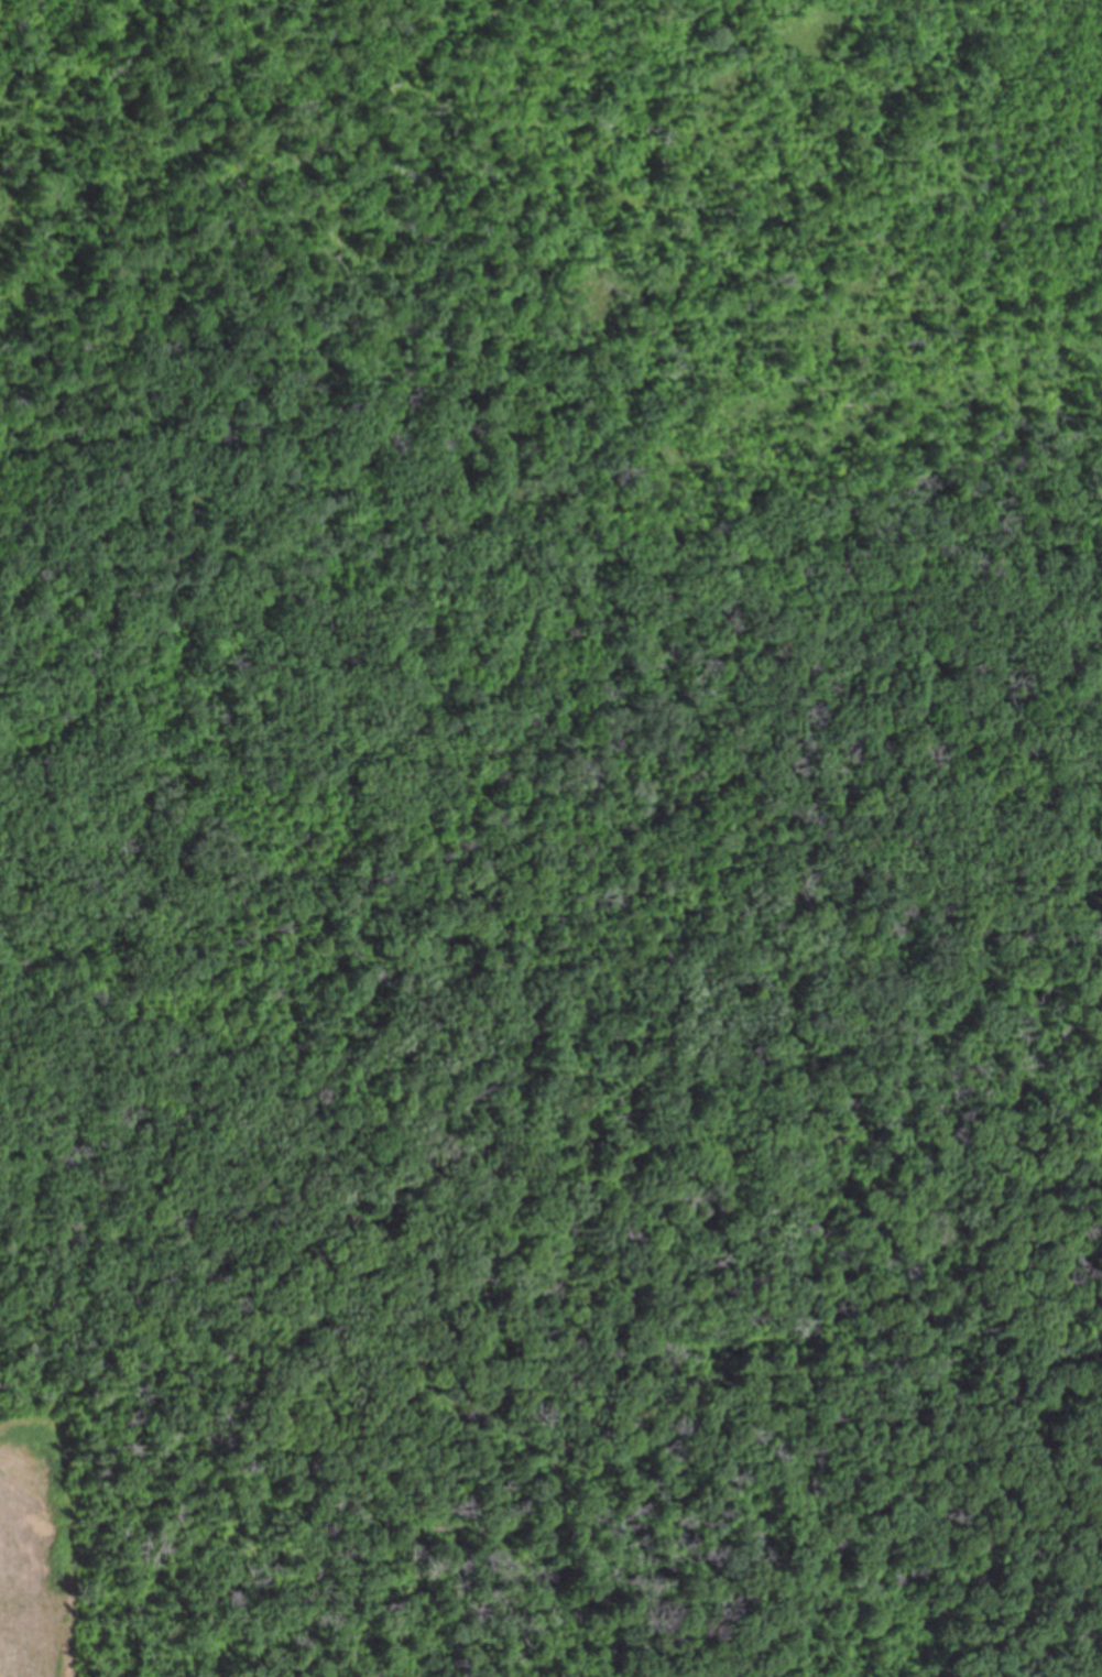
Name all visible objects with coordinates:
road: (581, 488)
park: (560, 825)

